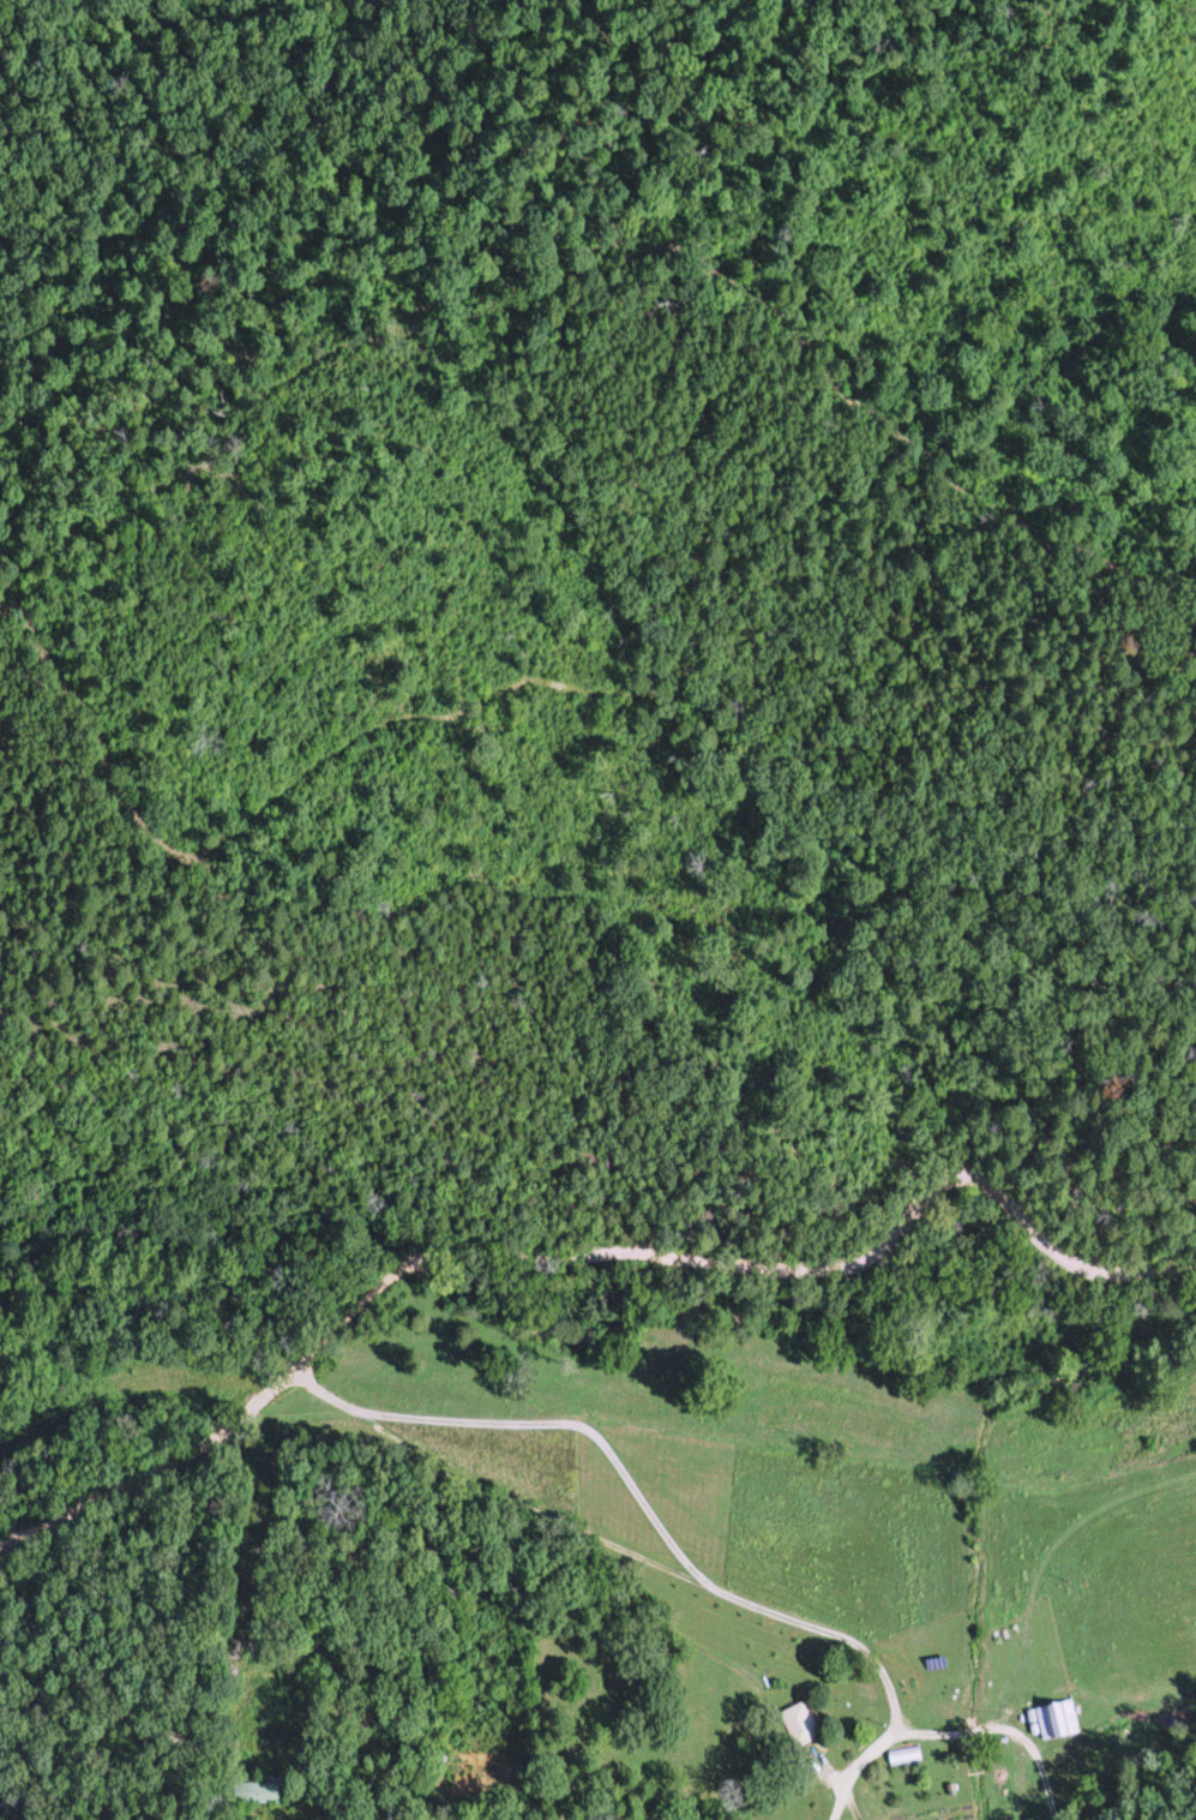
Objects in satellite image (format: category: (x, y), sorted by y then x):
road: (576, 1251)
road: (323, 1456)
road: (771, 1611)
road: (611, 1660)
road: (420, 1712)
building: (1059, 1717)
building: (280, 1791)

